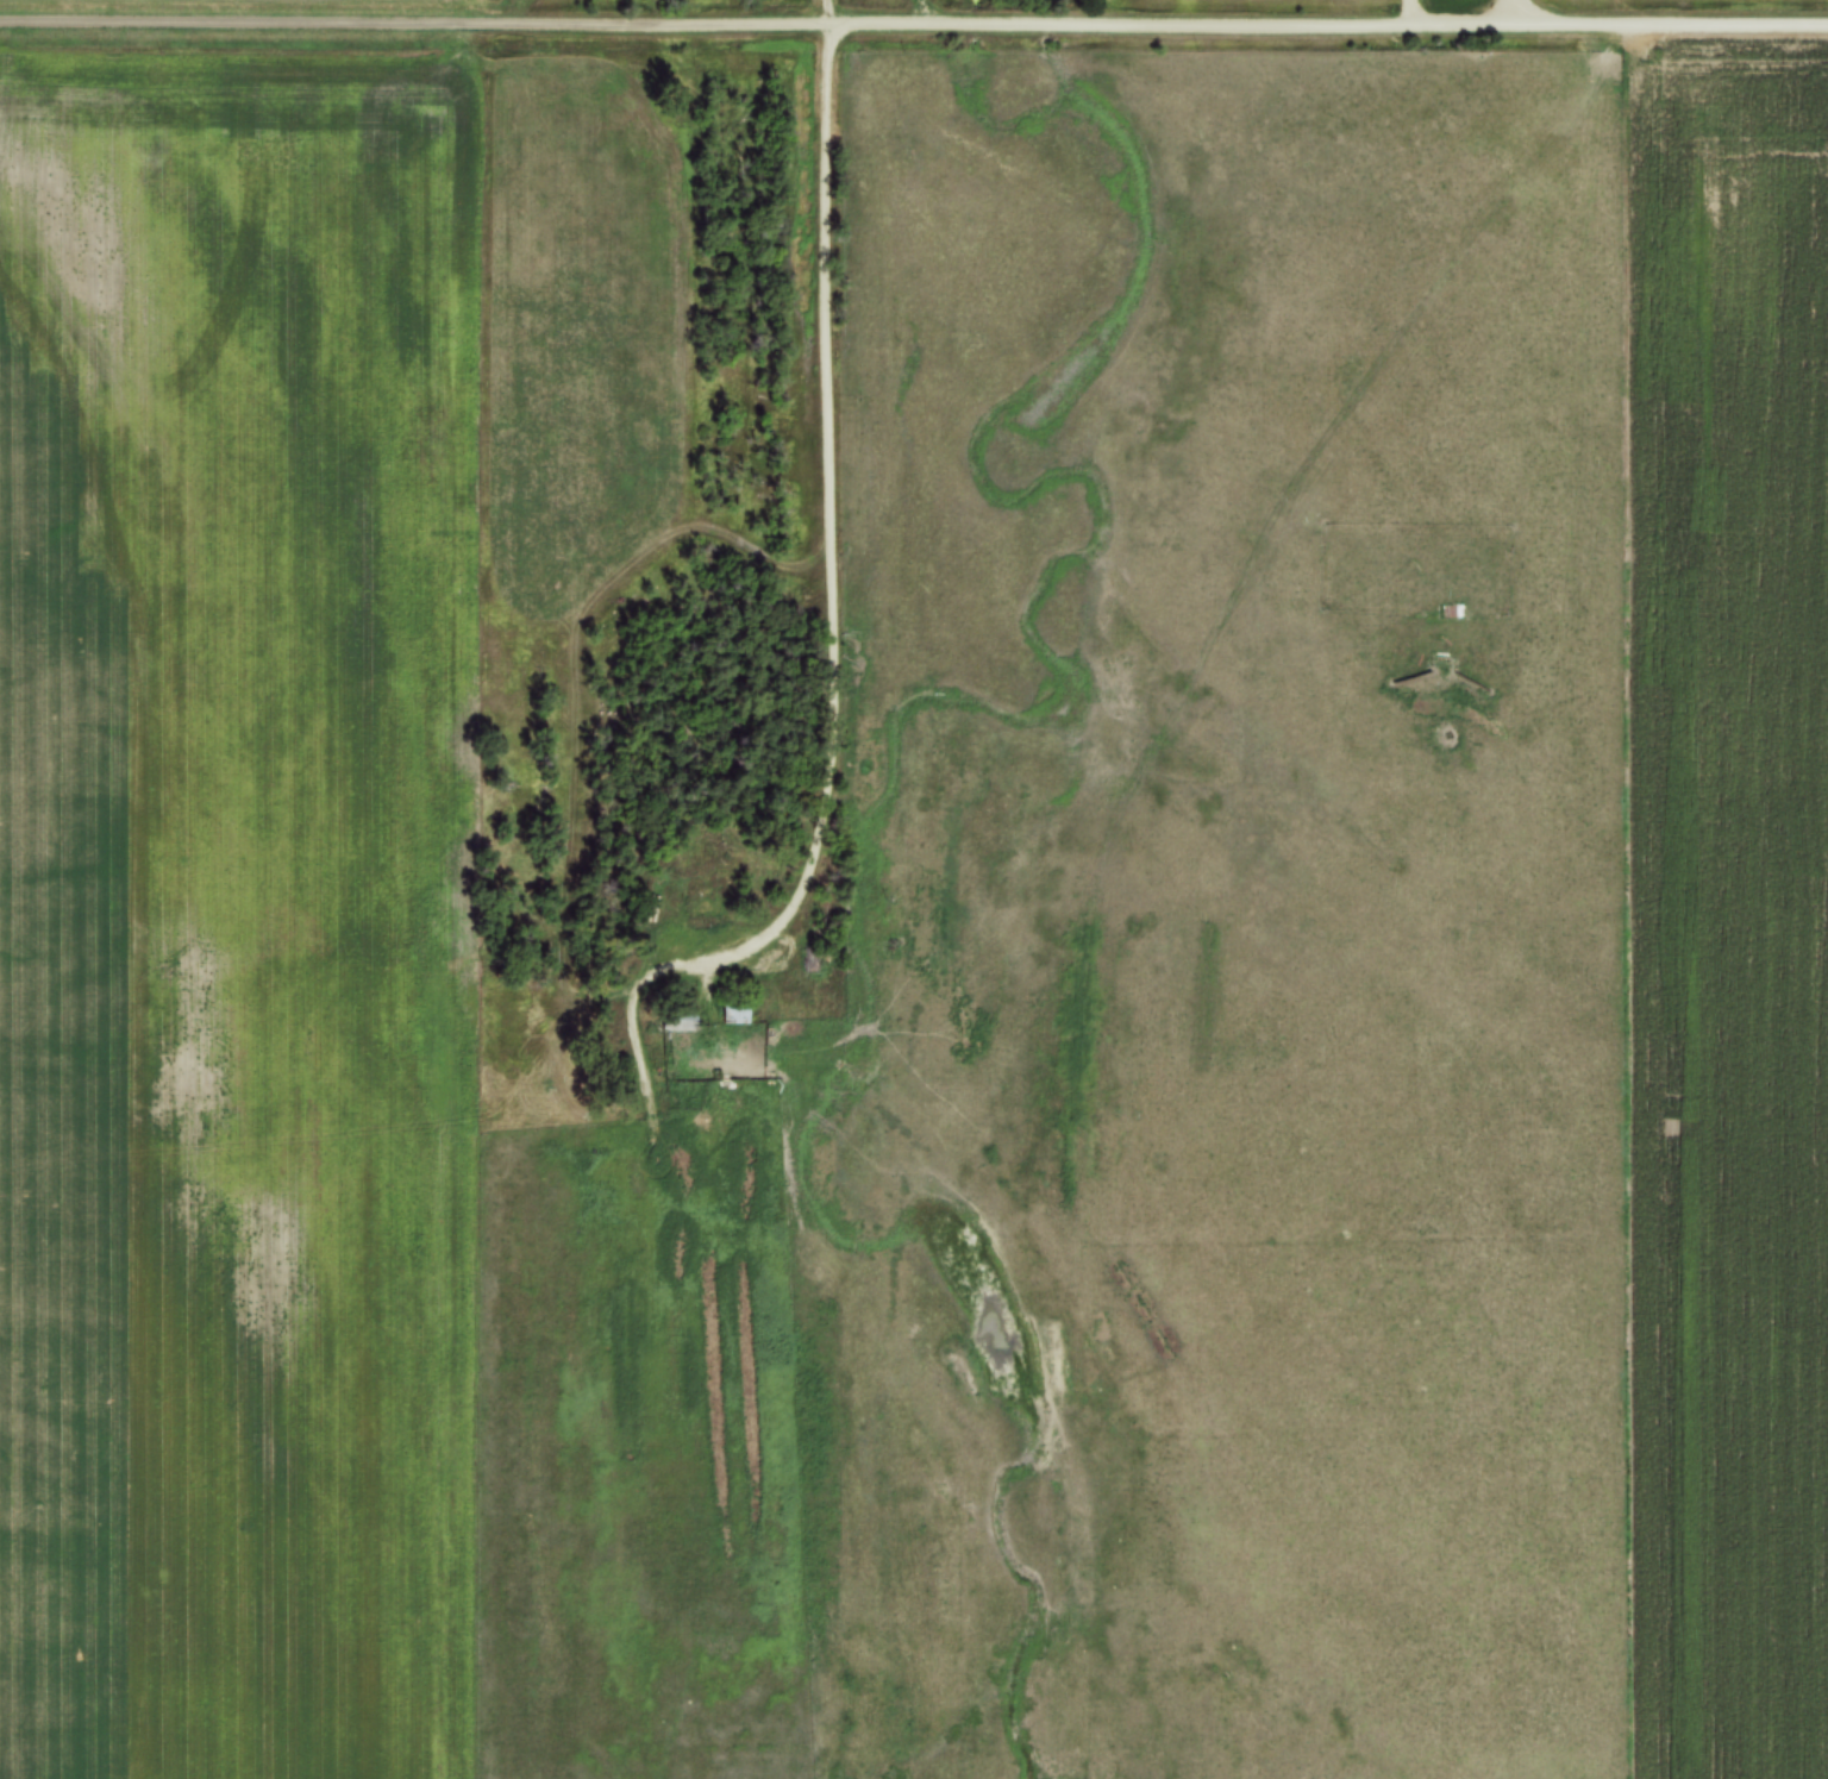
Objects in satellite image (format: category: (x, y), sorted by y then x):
road: (914, 19)
road: (822, 295)
building: (737, 1013)

